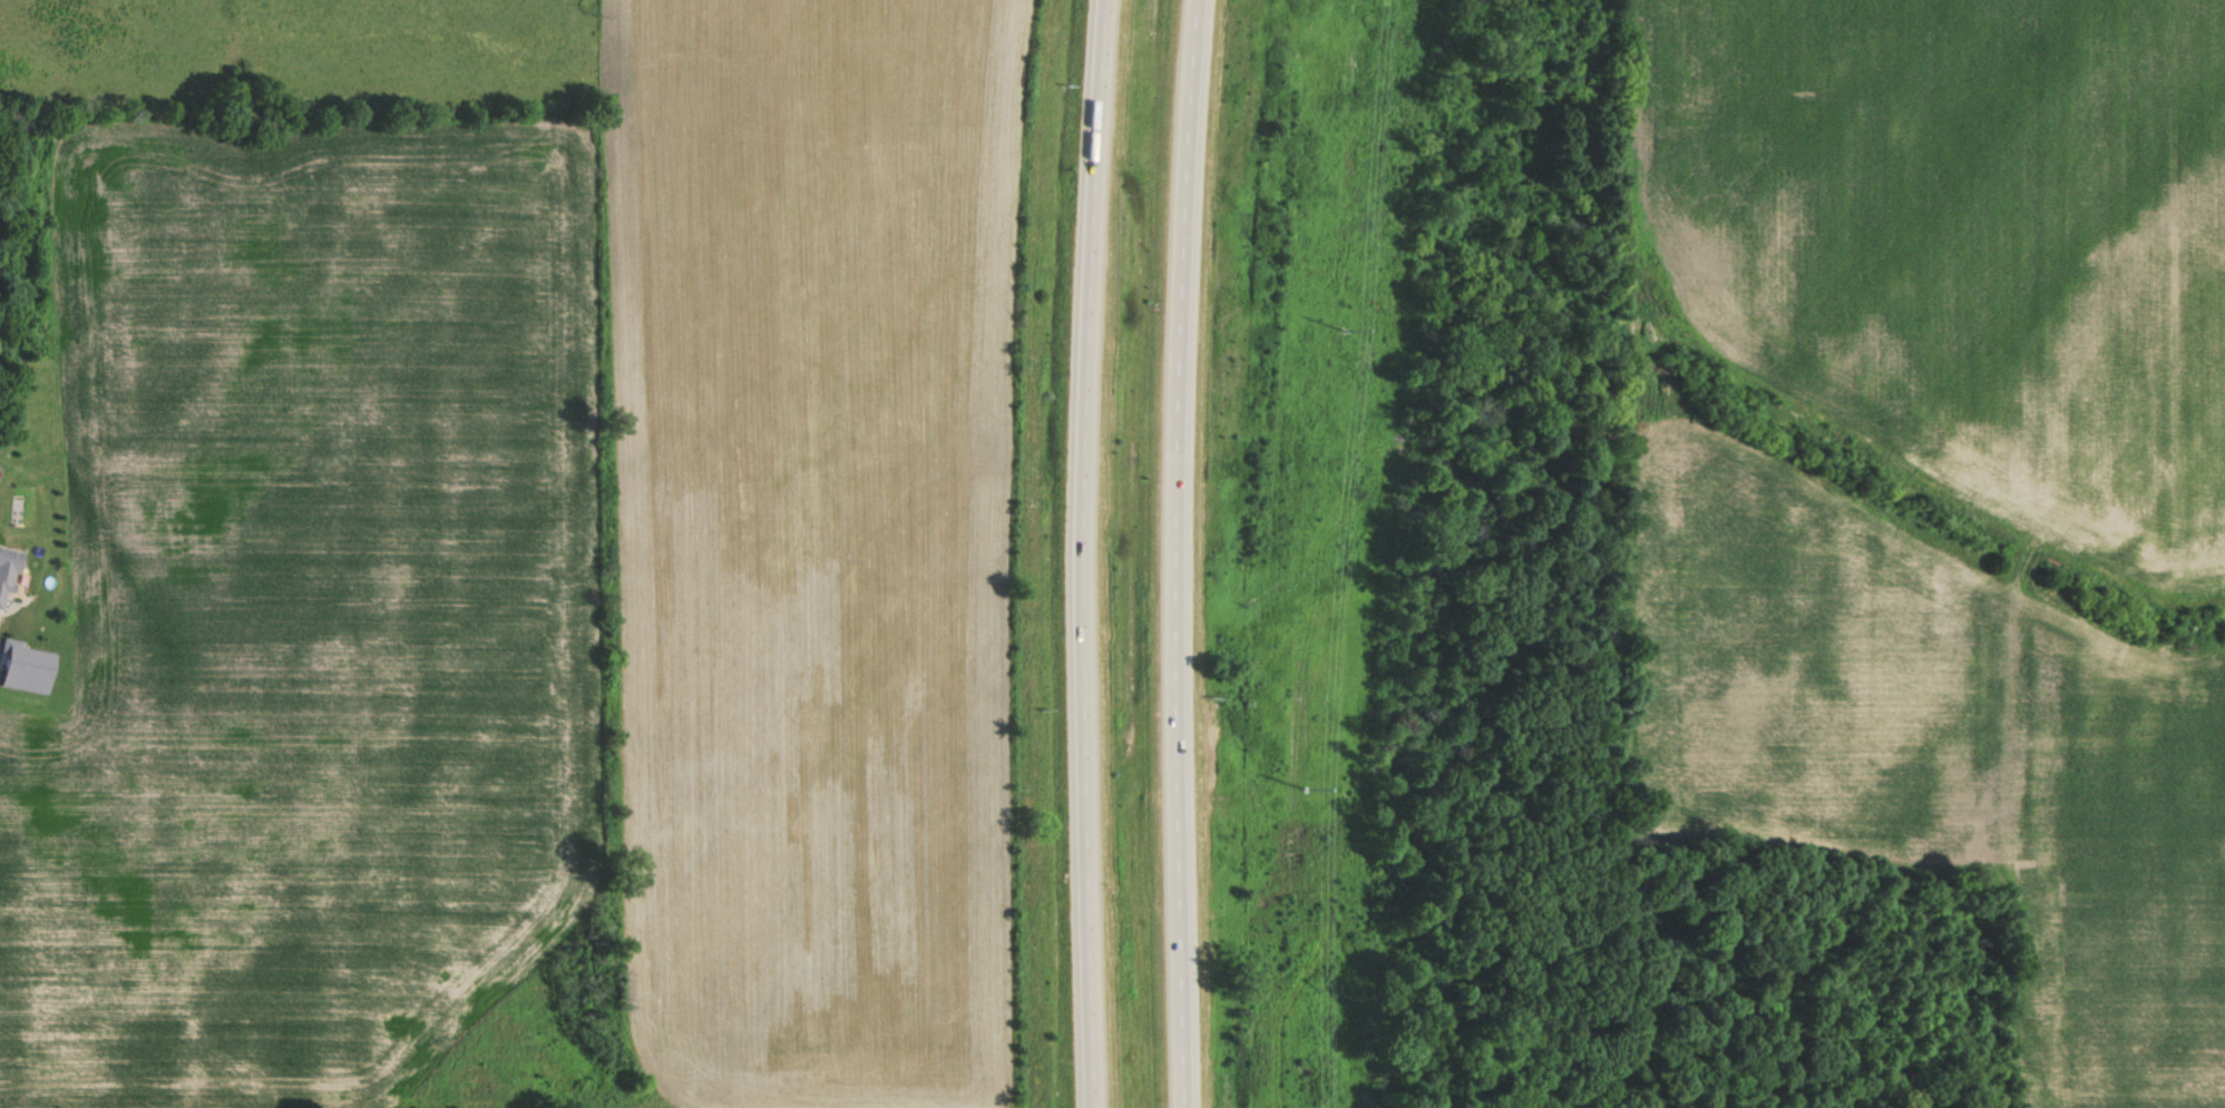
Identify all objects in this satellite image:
power tower: (1340, 325)
road: (1084, 553)
road: (1174, 553)
building: (11, 570)
building: (31, 666)
power tower: (1304, 786)

